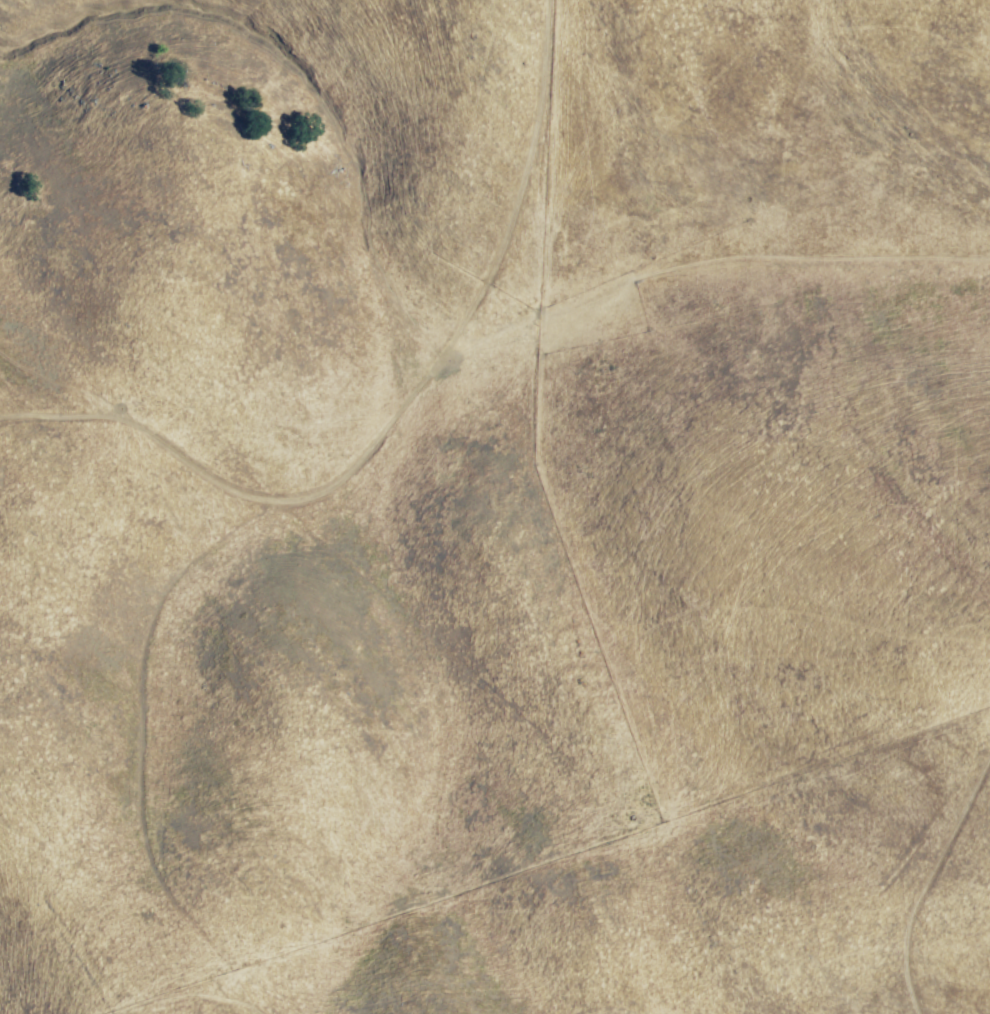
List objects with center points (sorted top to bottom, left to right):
road: (387, 417)
road: (130, 764)

